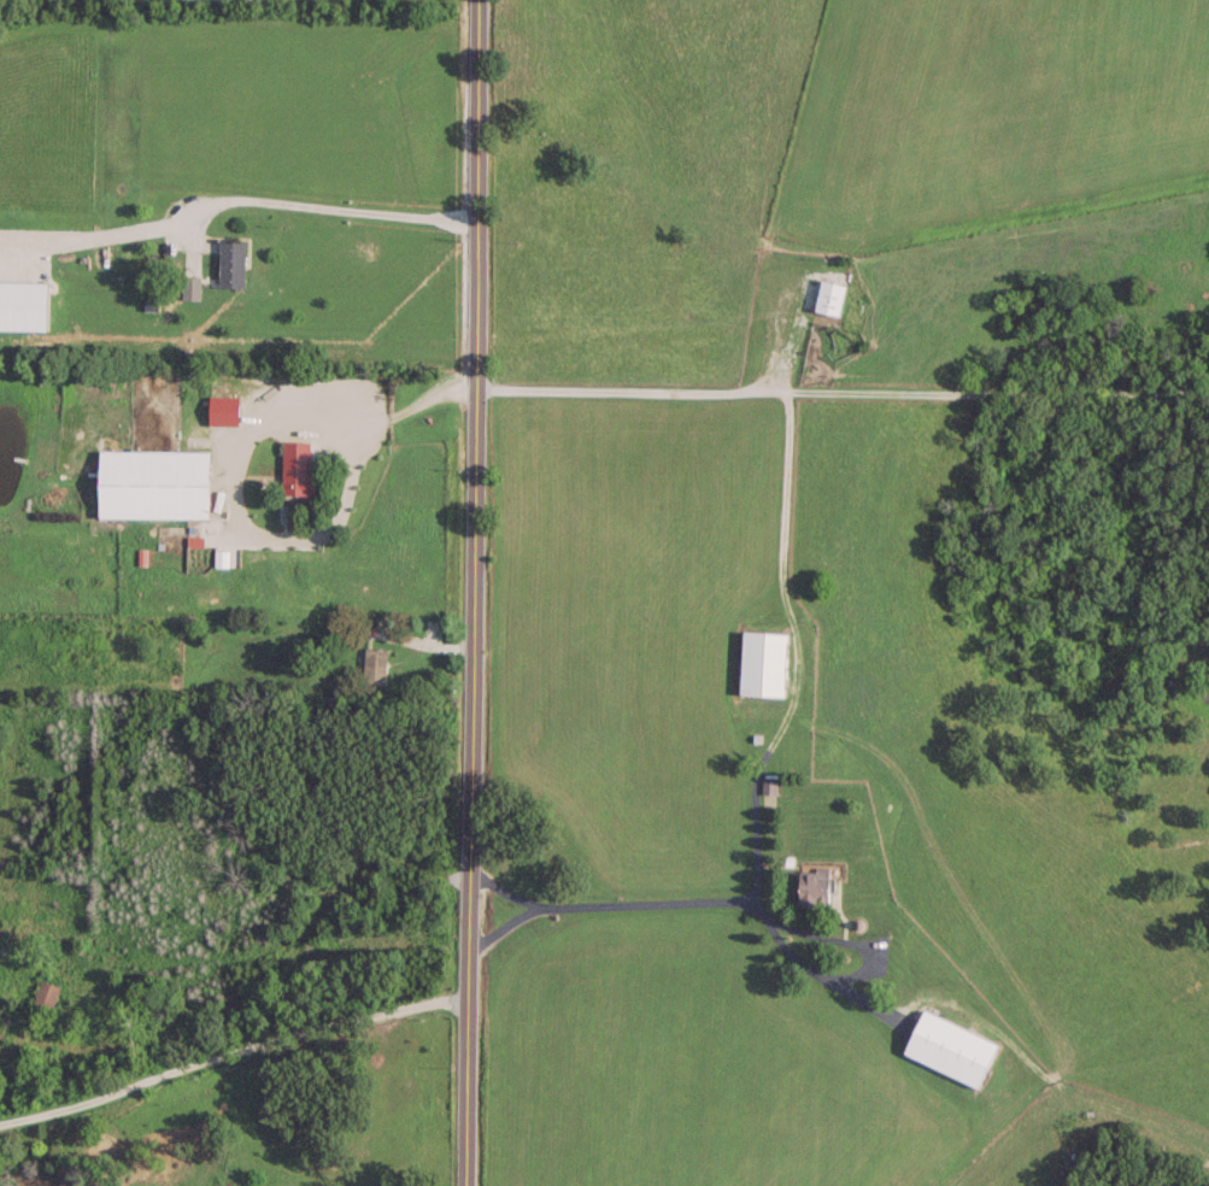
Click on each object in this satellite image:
road: (312, 188)
building: (228, 262)
building: (827, 295)
road: (785, 323)
road: (838, 393)
road: (307, 400)
building: (221, 409)
building: (294, 465)
building: (151, 482)
road: (466, 592)
building: (759, 662)
building: (372, 664)
road: (746, 770)
road: (495, 873)
building: (810, 885)
road: (245, 967)
building: (43, 992)
building: (947, 1046)
road: (229, 1058)

